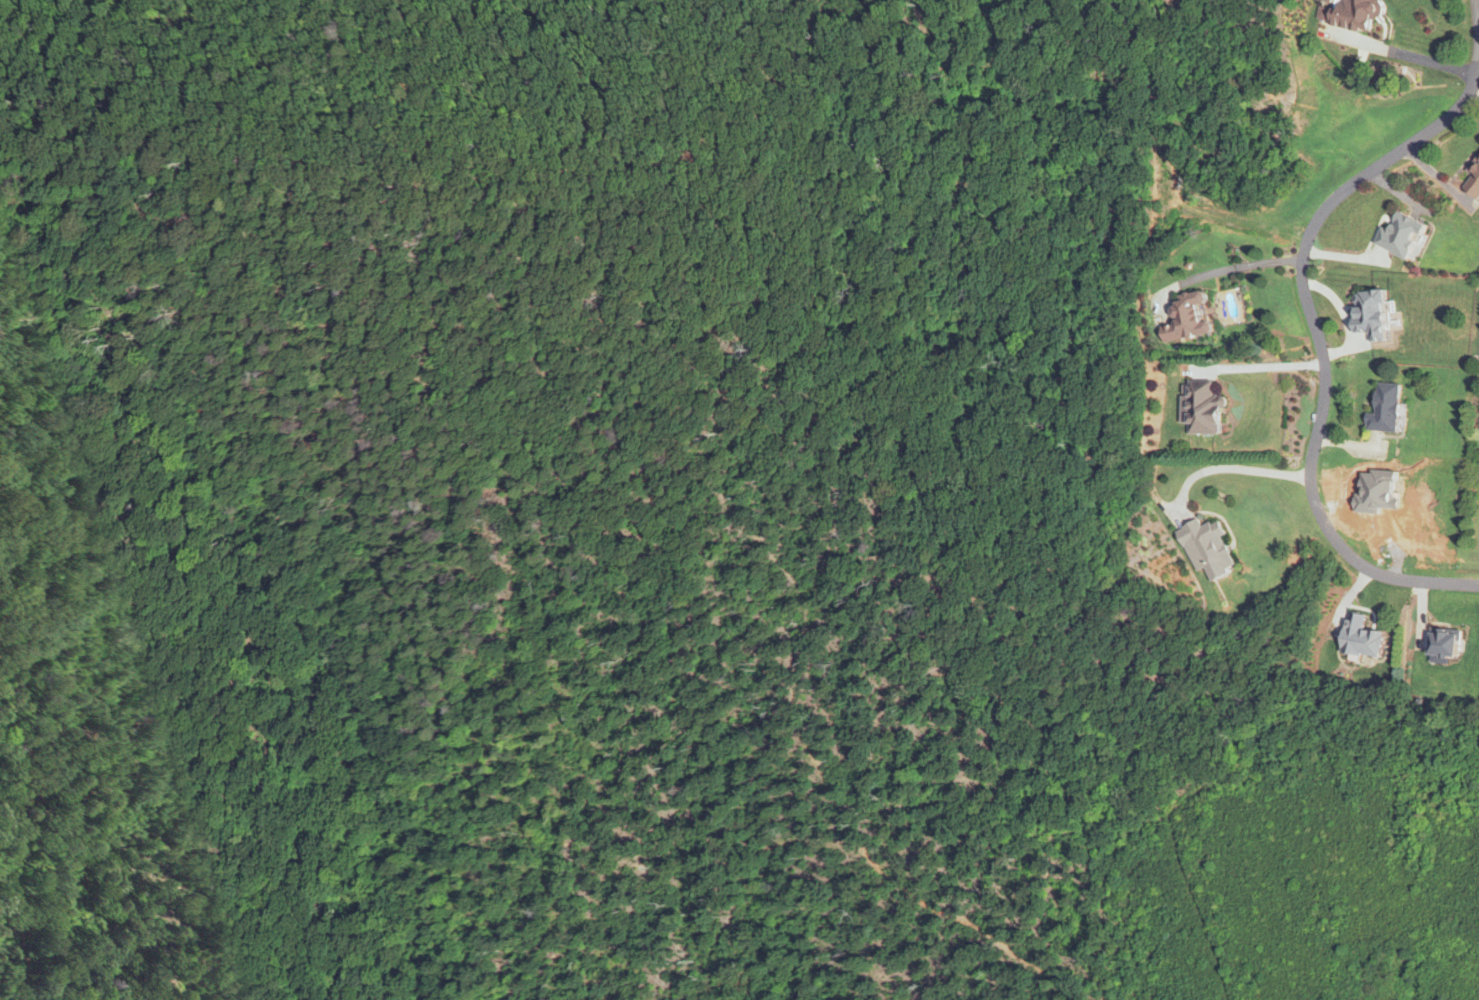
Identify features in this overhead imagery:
building: (1355, 14)
road: (1409, 55)
building: (1473, 181)
building: (1401, 236)
road: (1232, 267)
road: (1310, 313)
building: (1372, 315)
building: (1188, 317)
road: (1262, 367)
building: (1202, 407)
building: (1386, 408)
road: (1229, 467)
building: (1207, 548)
building: (1362, 636)
building: (1446, 641)

